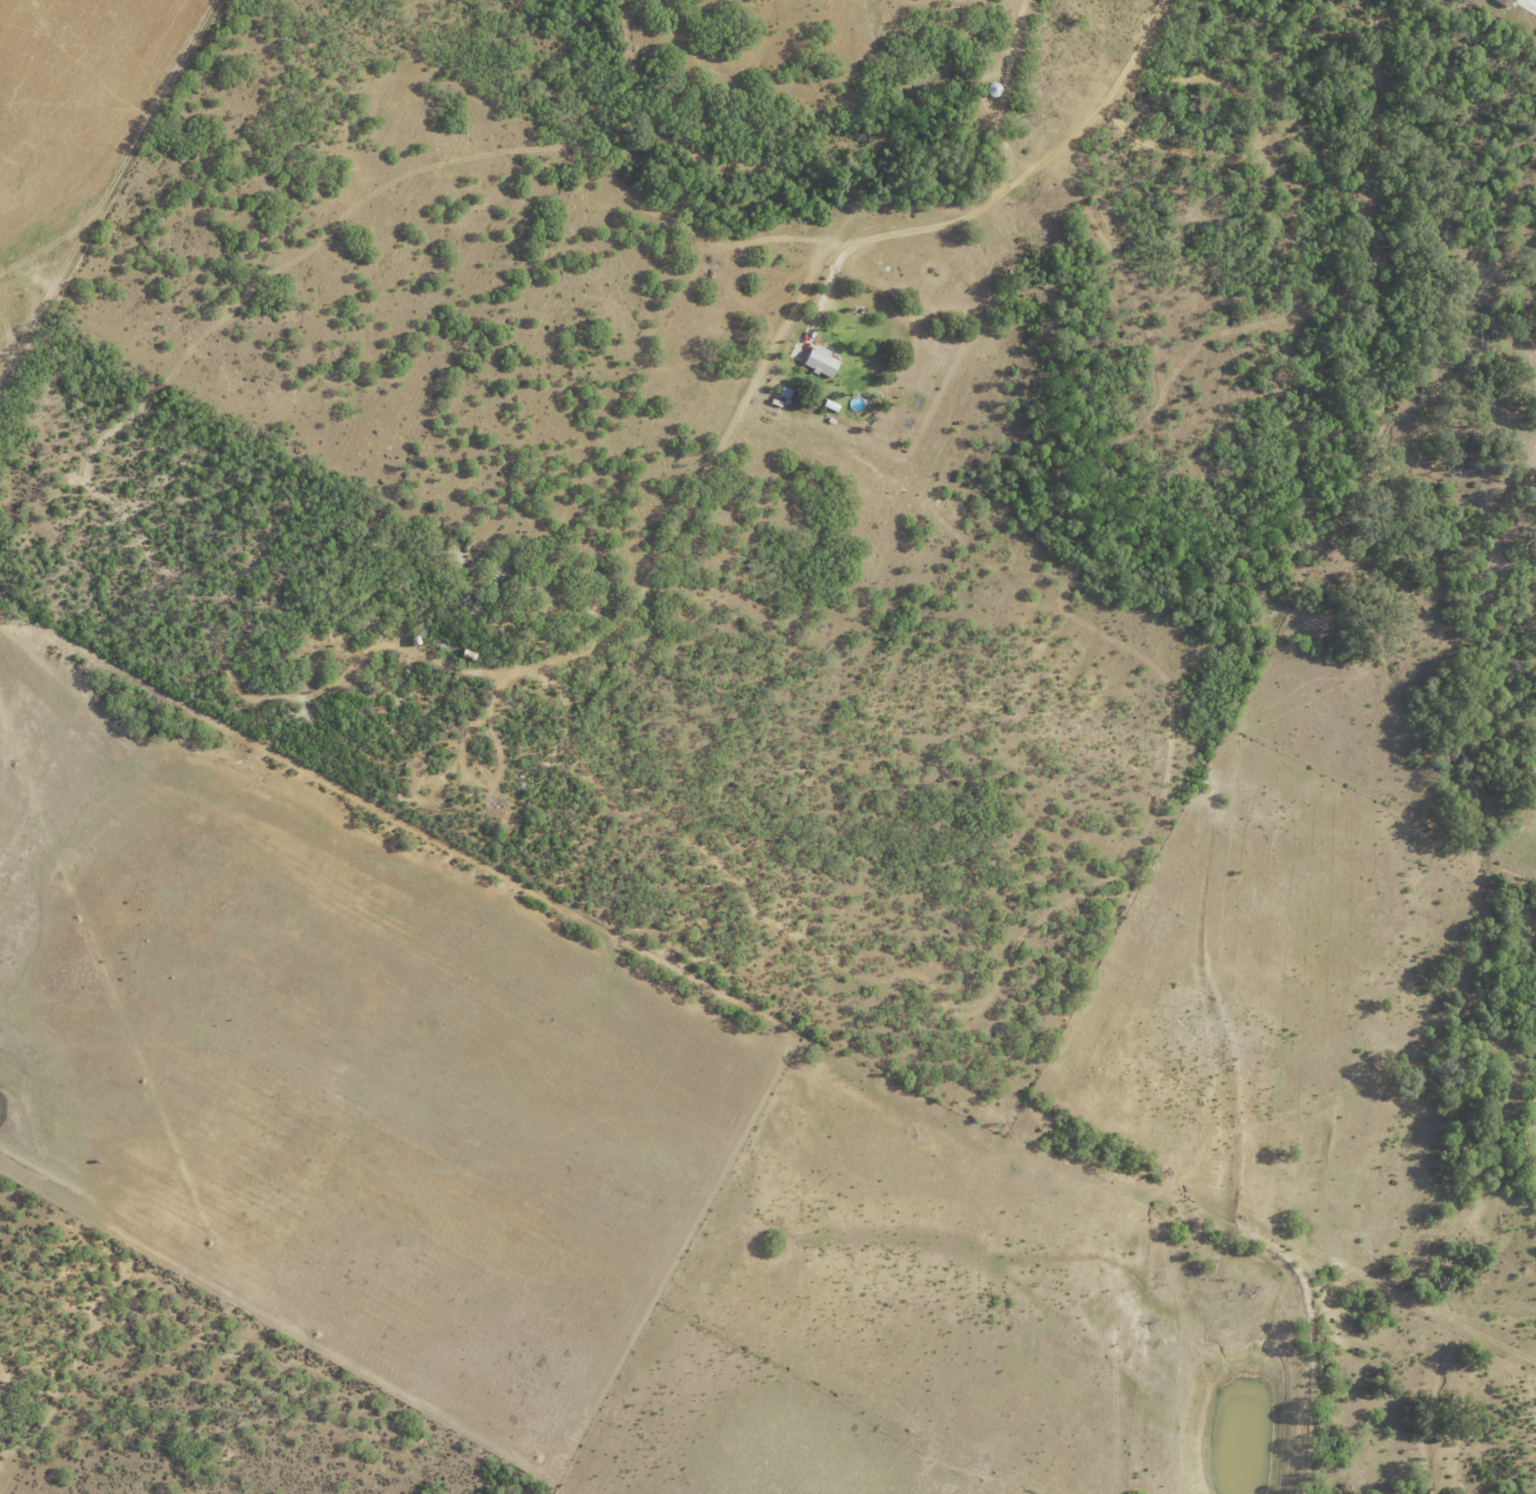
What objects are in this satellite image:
road: (1030, 173)
building: (824, 361)

